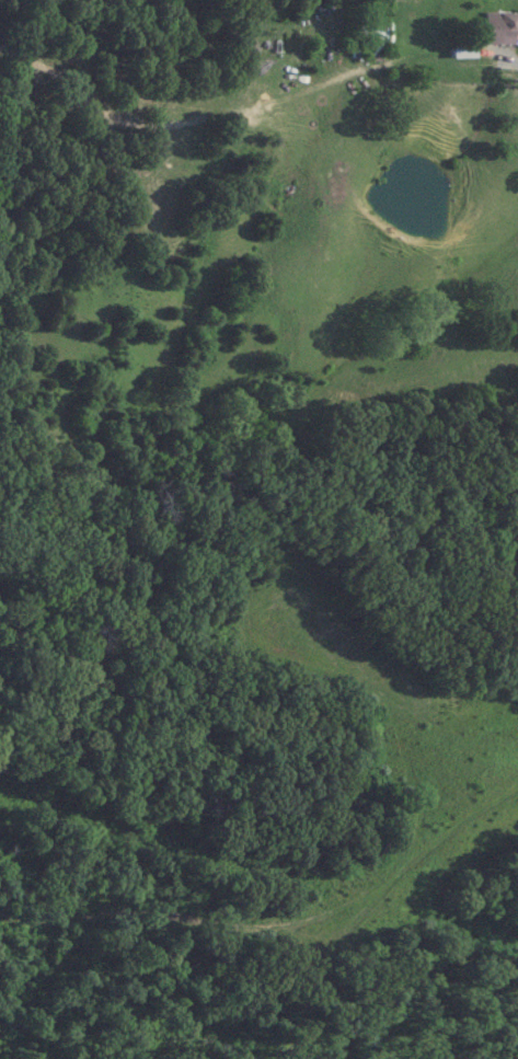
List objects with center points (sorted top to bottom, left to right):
building: (499, 24)
road: (513, 56)

